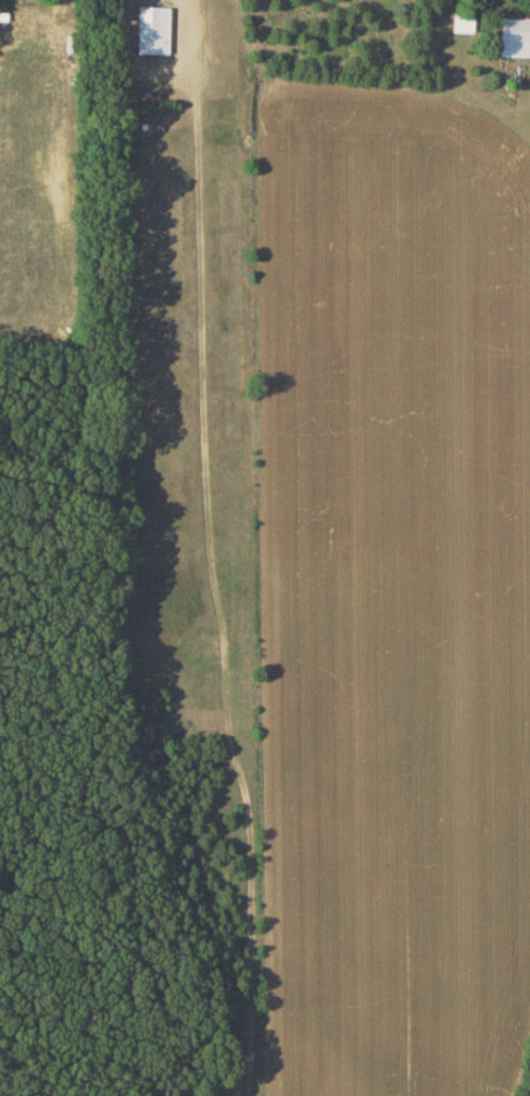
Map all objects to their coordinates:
building: (153, 29)
building: (515, 36)
road: (156, 67)

